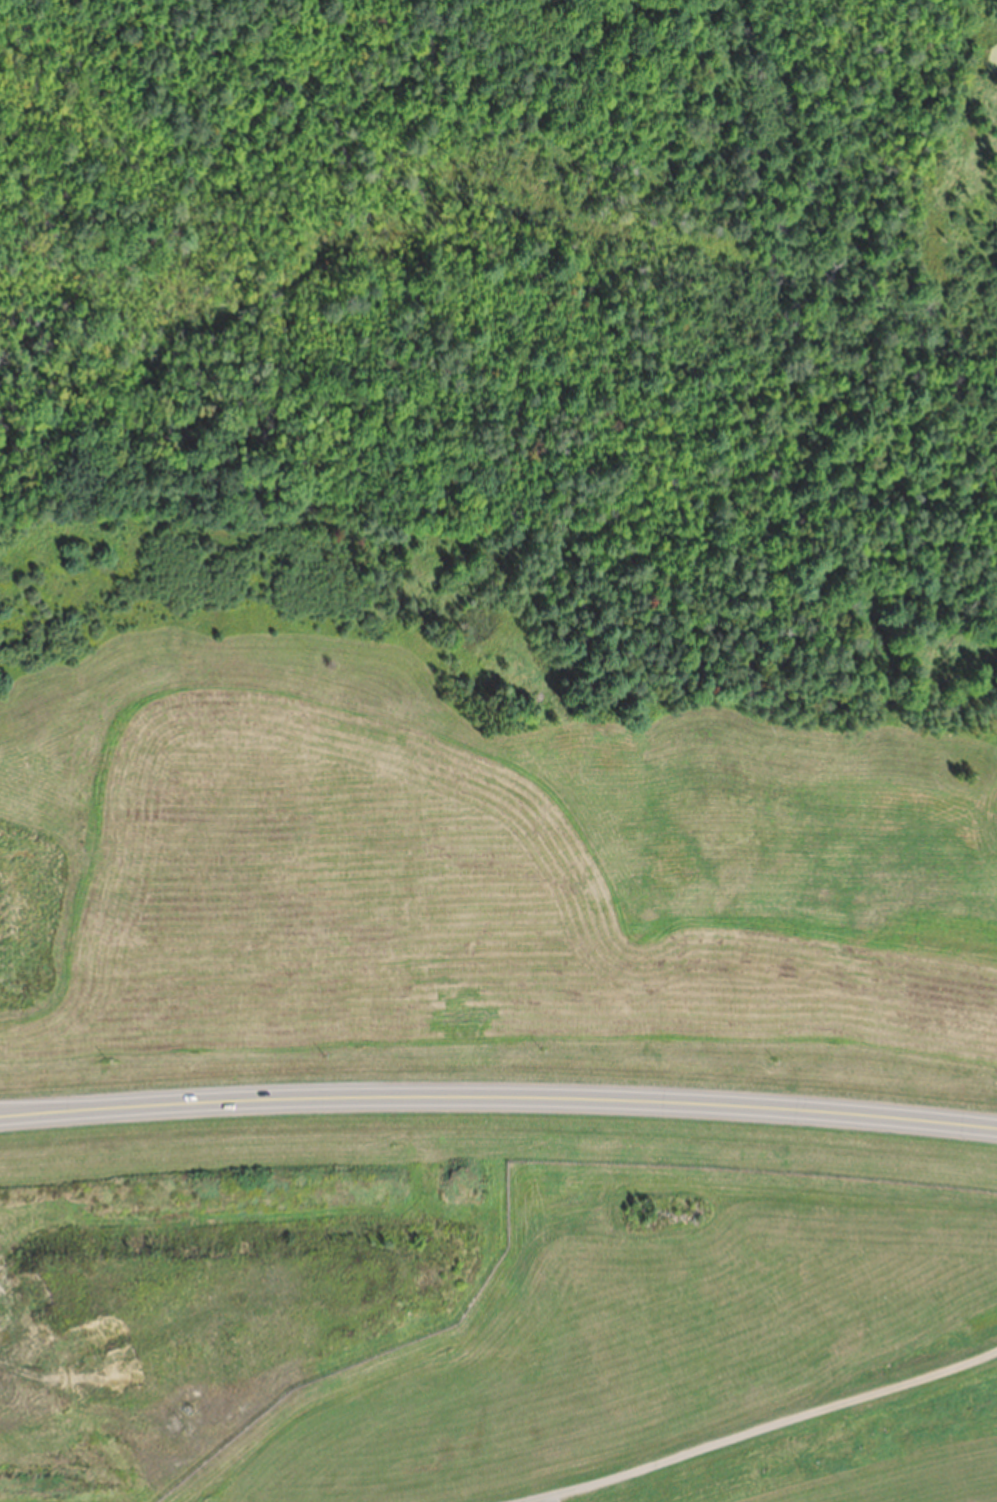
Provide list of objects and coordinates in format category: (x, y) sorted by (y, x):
airport: (498, 999)
road: (498, 1096)

